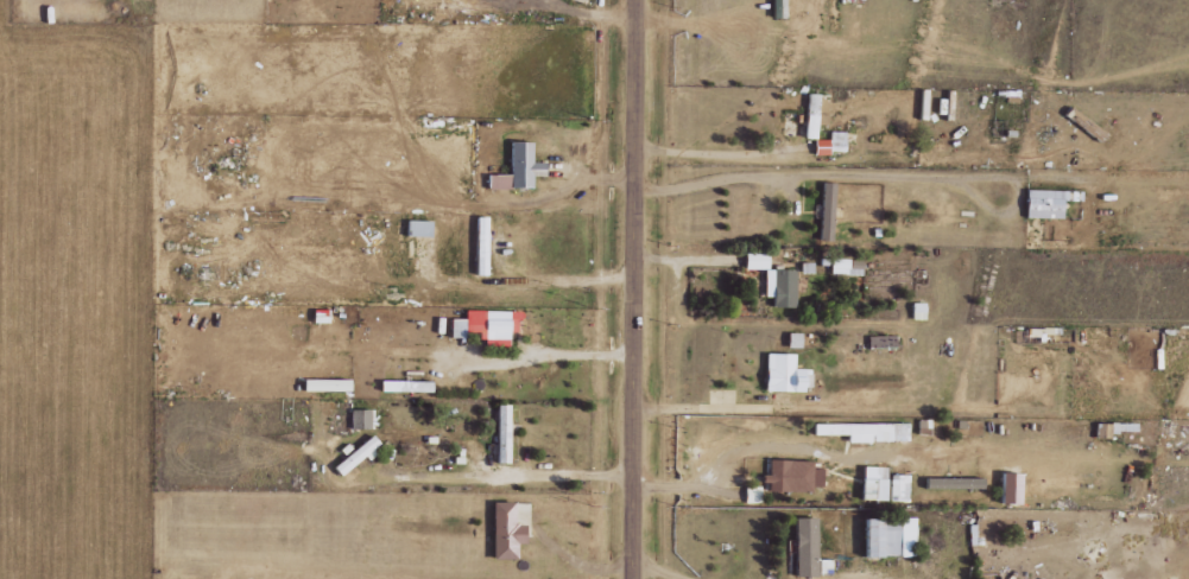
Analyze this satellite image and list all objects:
building: (780, 8)
building: (812, 114)
building: (829, 144)
building: (516, 166)
building: (1041, 203)
building: (826, 211)
building: (416, 228)
building: (480, 244)
building: (754, 260)
building: (843, 266)
building: (778, 287)
road: (633, 289)
building: (492, 326)
building: (455, 327)
building: (782, 374)
building: (401, 386)
building: (360, 418)
building: (1103, 430)
building: (869, 431)
building: (501, 433)
building: (353, 454)
building: (786, 476)
building: (949, 483)
building: (880, 484)
building: (1008, 488)
building: (751, 495)
building: (1098, 497)
building: (501, 530)
building: (886, 536)
building: (802, 546)

